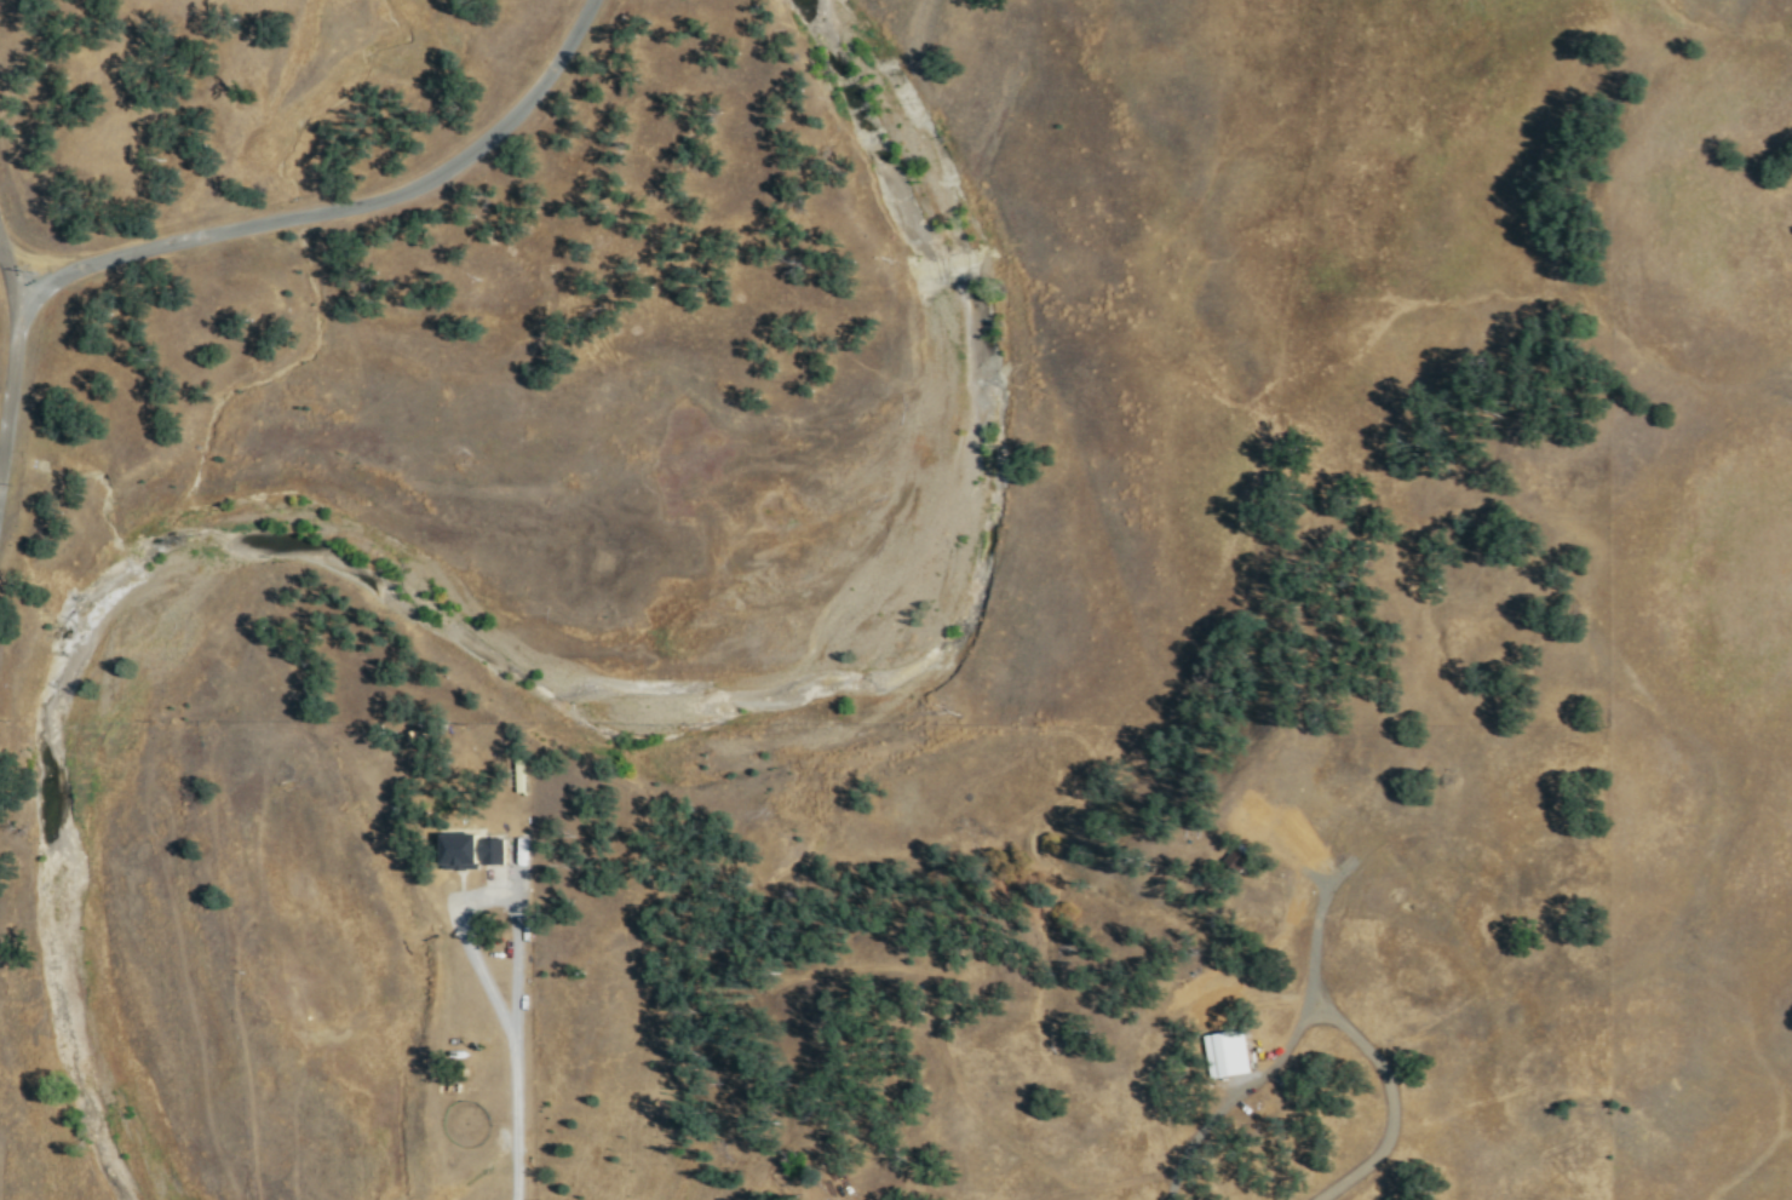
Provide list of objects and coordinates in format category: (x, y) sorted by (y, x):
road: (243, 229)
road: (15, 266)
building: (476, 848)
building: (1237, 859)
road: (486, 897)
building: (1228, 1052)
road: (1276, 1055)
road: (515, 1120)

